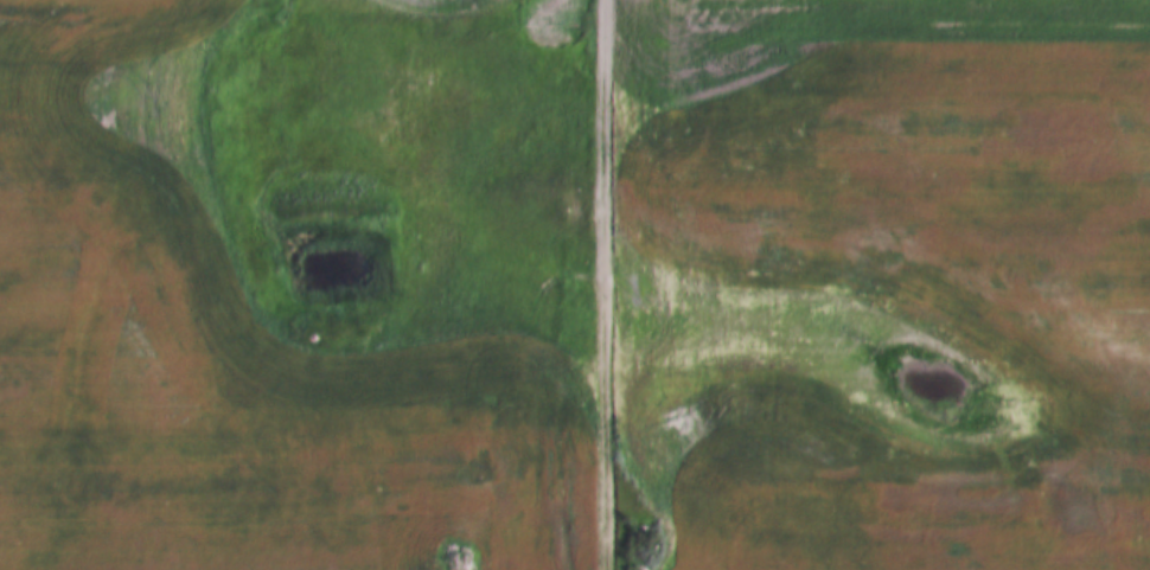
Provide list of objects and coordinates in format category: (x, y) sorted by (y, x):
road: (608, 284)

